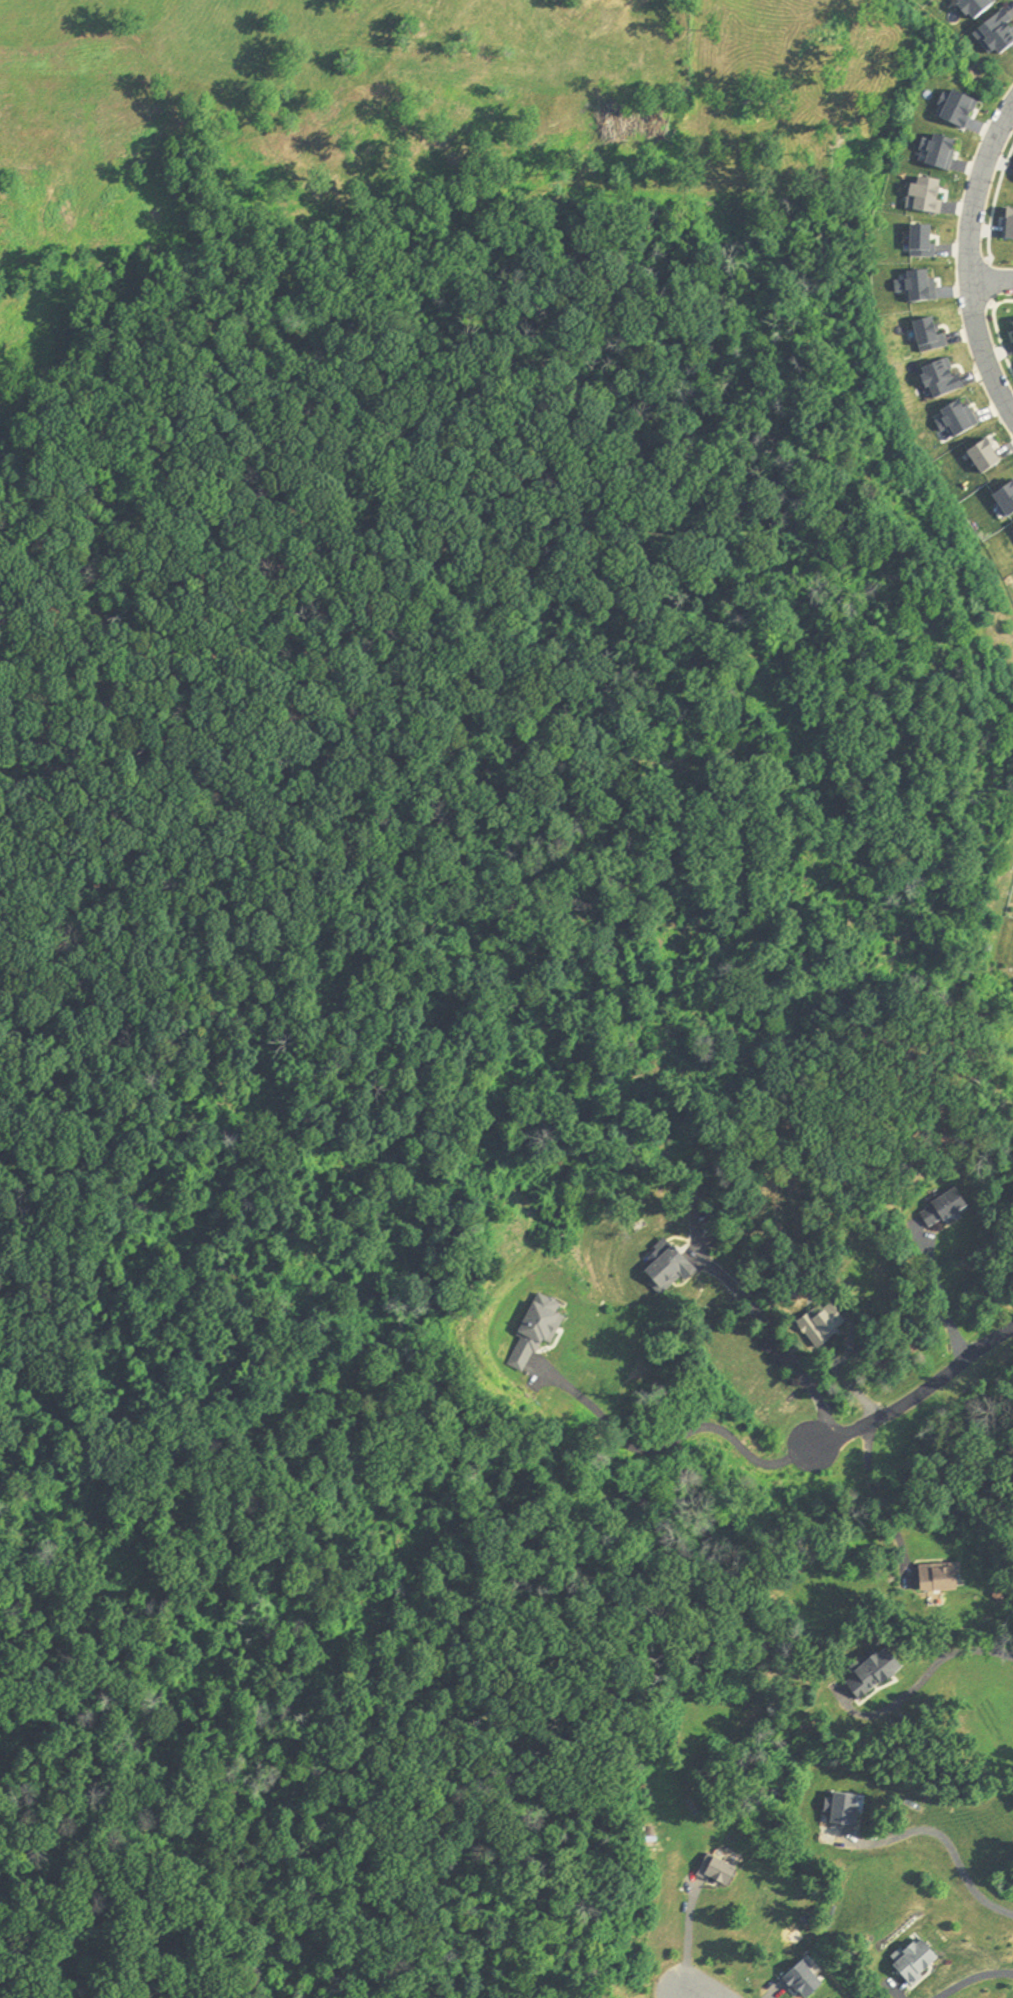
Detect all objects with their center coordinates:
road: (995, 201)
road: (969, 259)
road: (991, 280)
road: (991, 282)
road: (997, 329)
building: (945, 1211)
building: (668, 1272)
road: (938, 1294)
building: (822, 1325)
road: (779, 1343)
road: (917, 1394)
road: (674, 1439)
road: (876, 1501)
building: (874, 1674)
road: (922, 1677)
building: (845, 1812)
road: (949, 1847)
building: (718, 1873)
road: (688, 1935)
building: (917, 1963)
road: (977, 1980)
building: (804, 1982)
road: (705, 1991)
road: (682, 1994)

